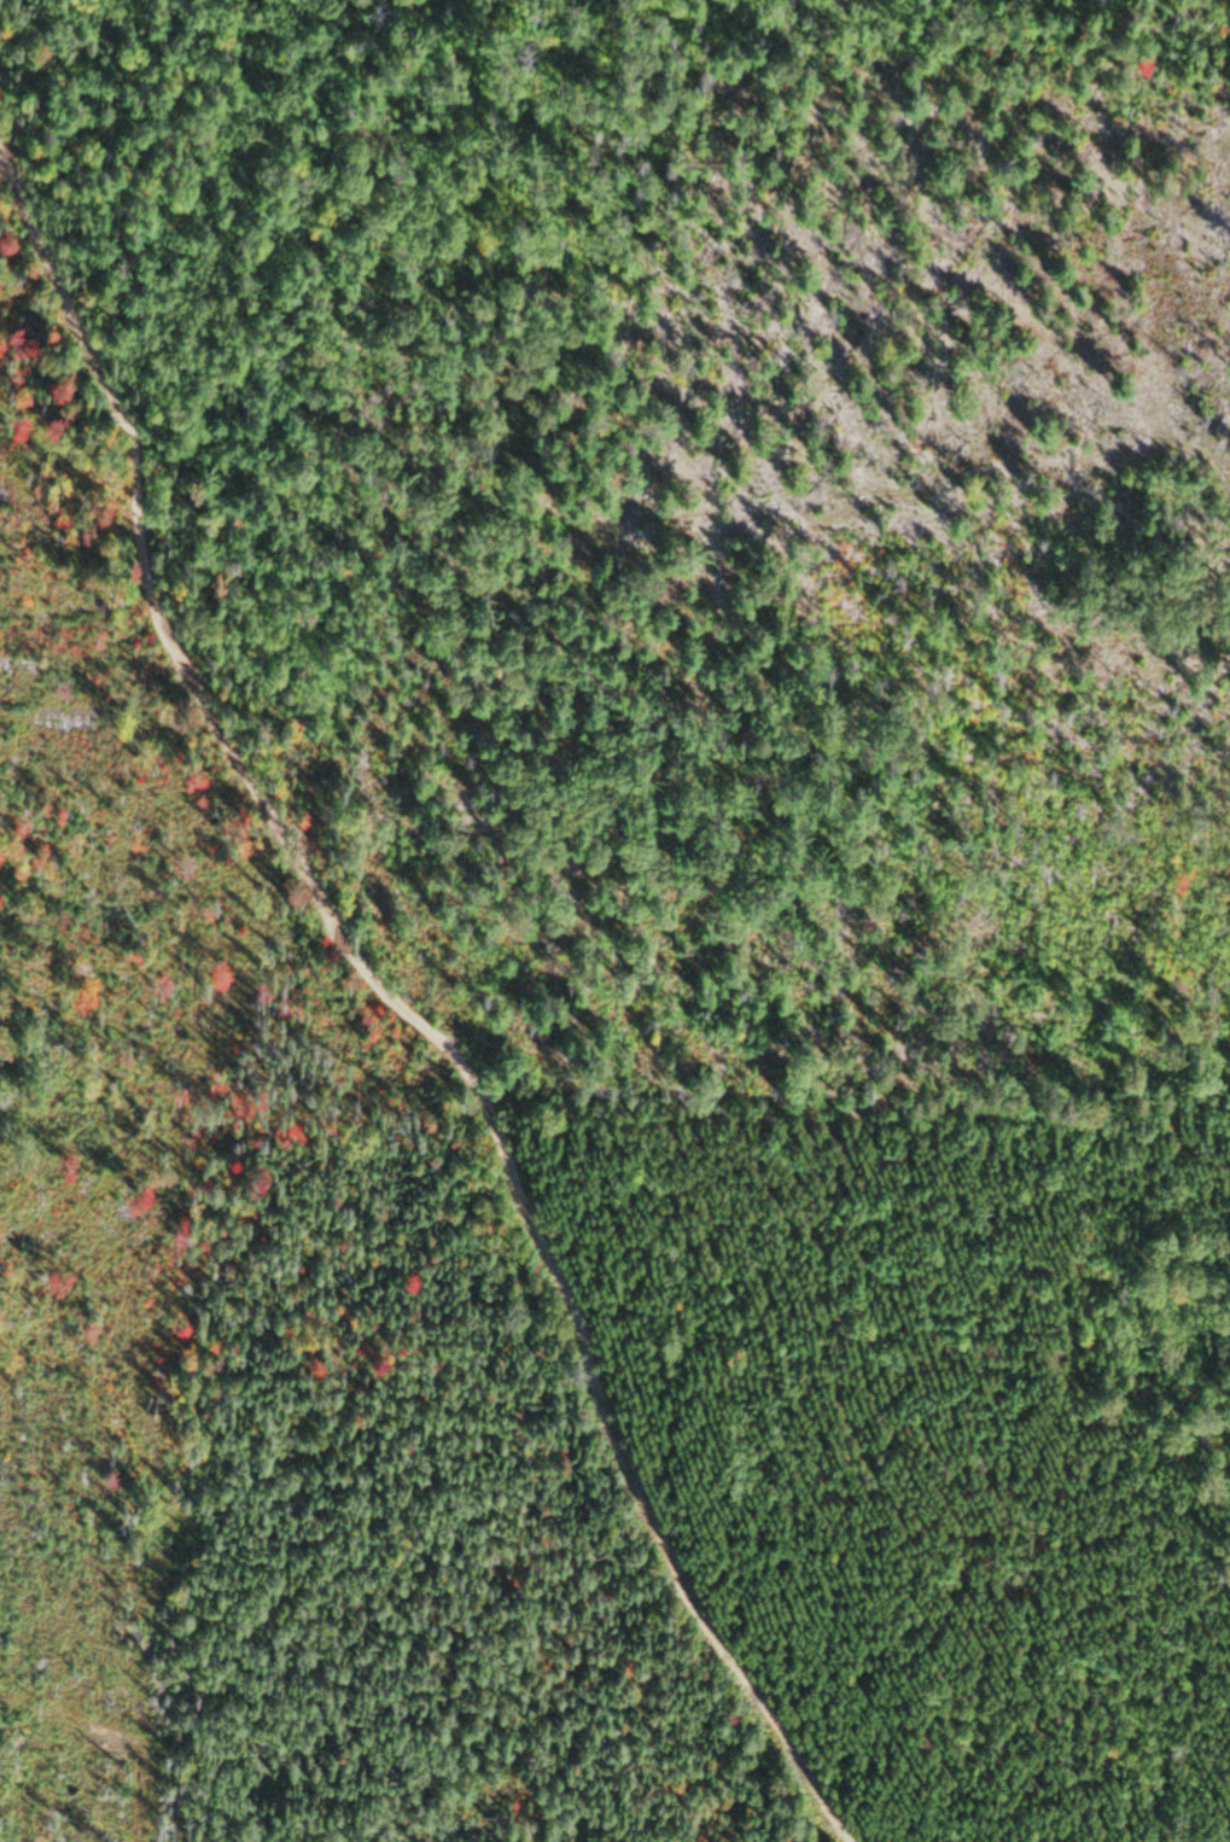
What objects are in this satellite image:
road: (395, 1022)

